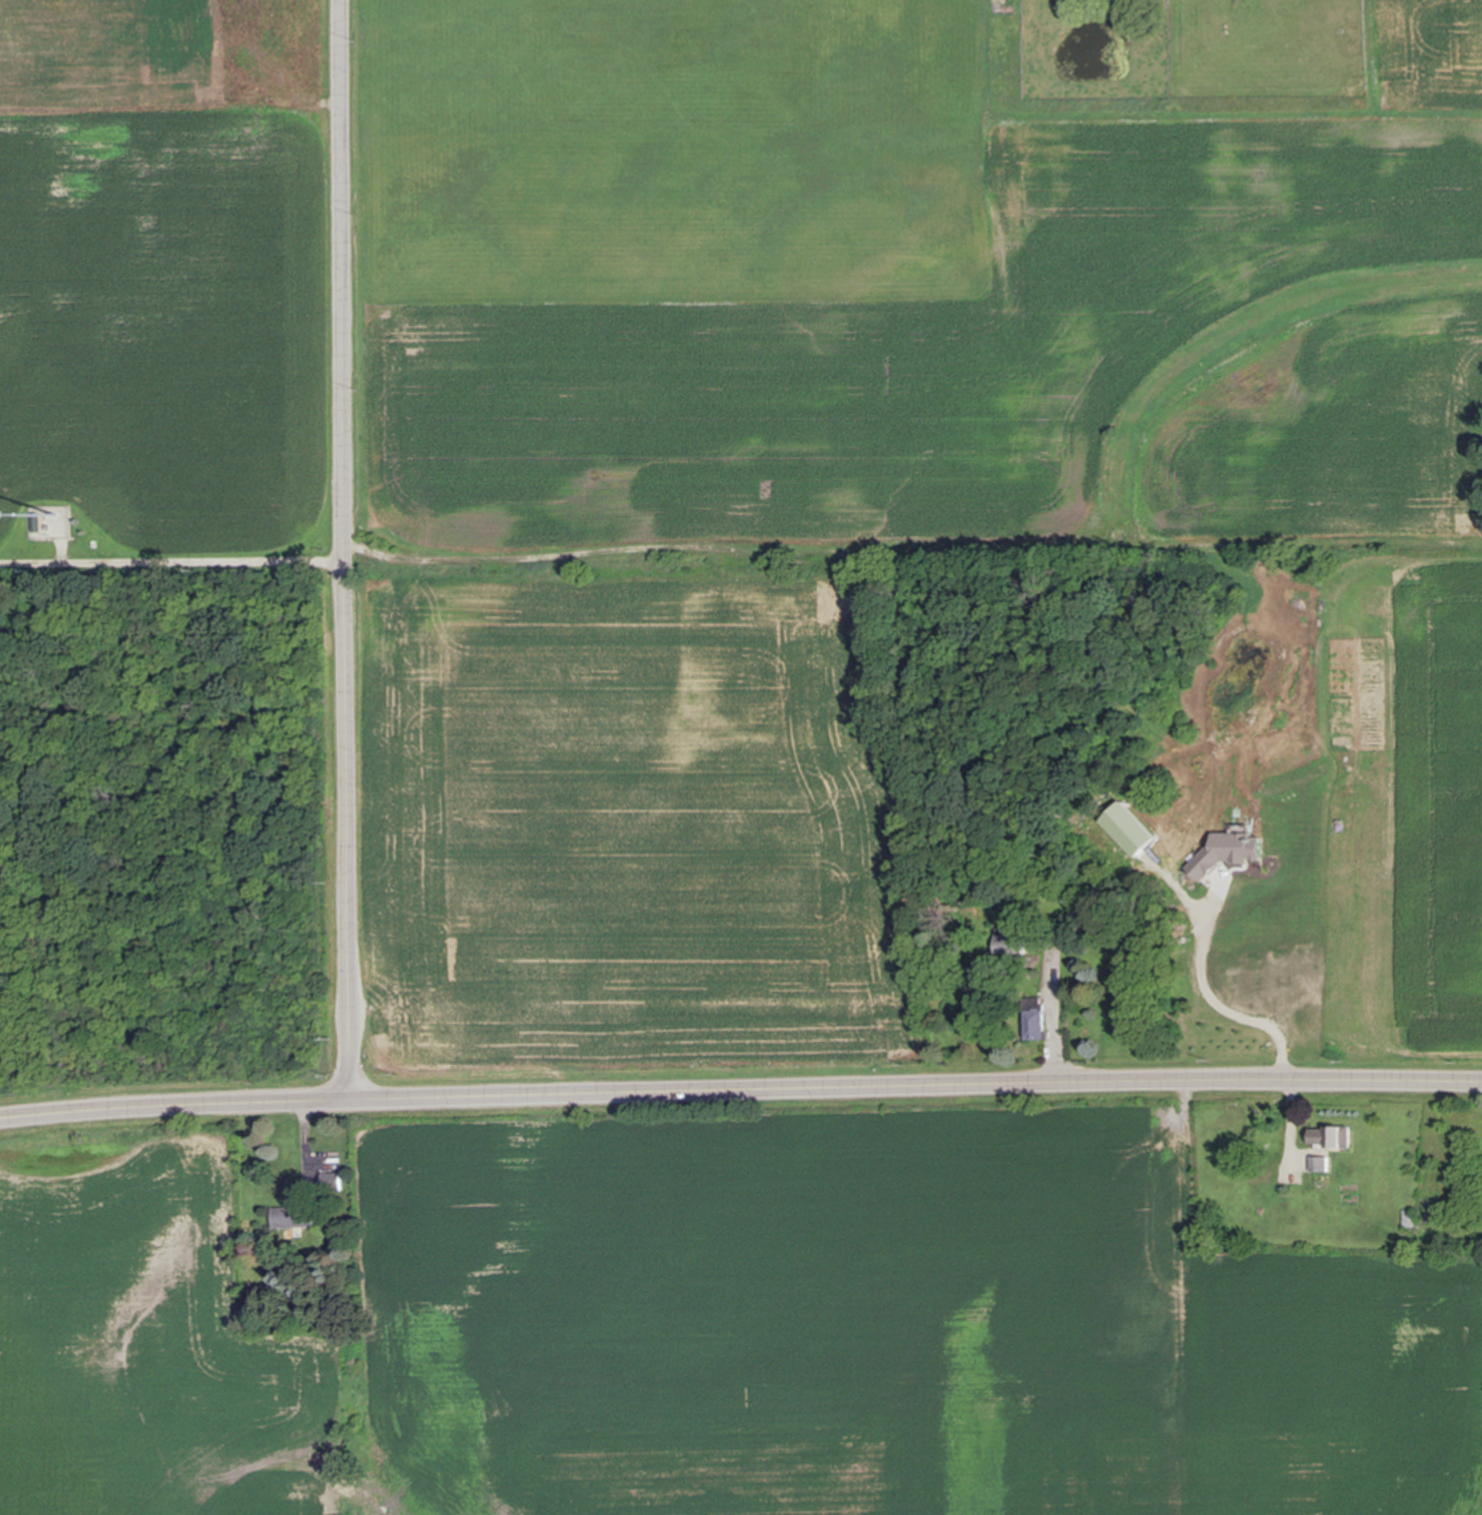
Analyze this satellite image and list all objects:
building: (37, 524)
road: (350, 543)
road: (175, 562)
building: (1129, 830)
building: (1228, 853)
building: (1060, 899)
building: (933, 900)
building: (944, 909)
building: (1007, 940)
road: (1215, 1000)
road: (1054, 1018)
building: (1032, 1019)
road: (740, 1081)
building: (1331, 1138)
building: (1318, 1163)
building: (328, 1183)
building: (1407, 1217)
building: (290, 1219)

